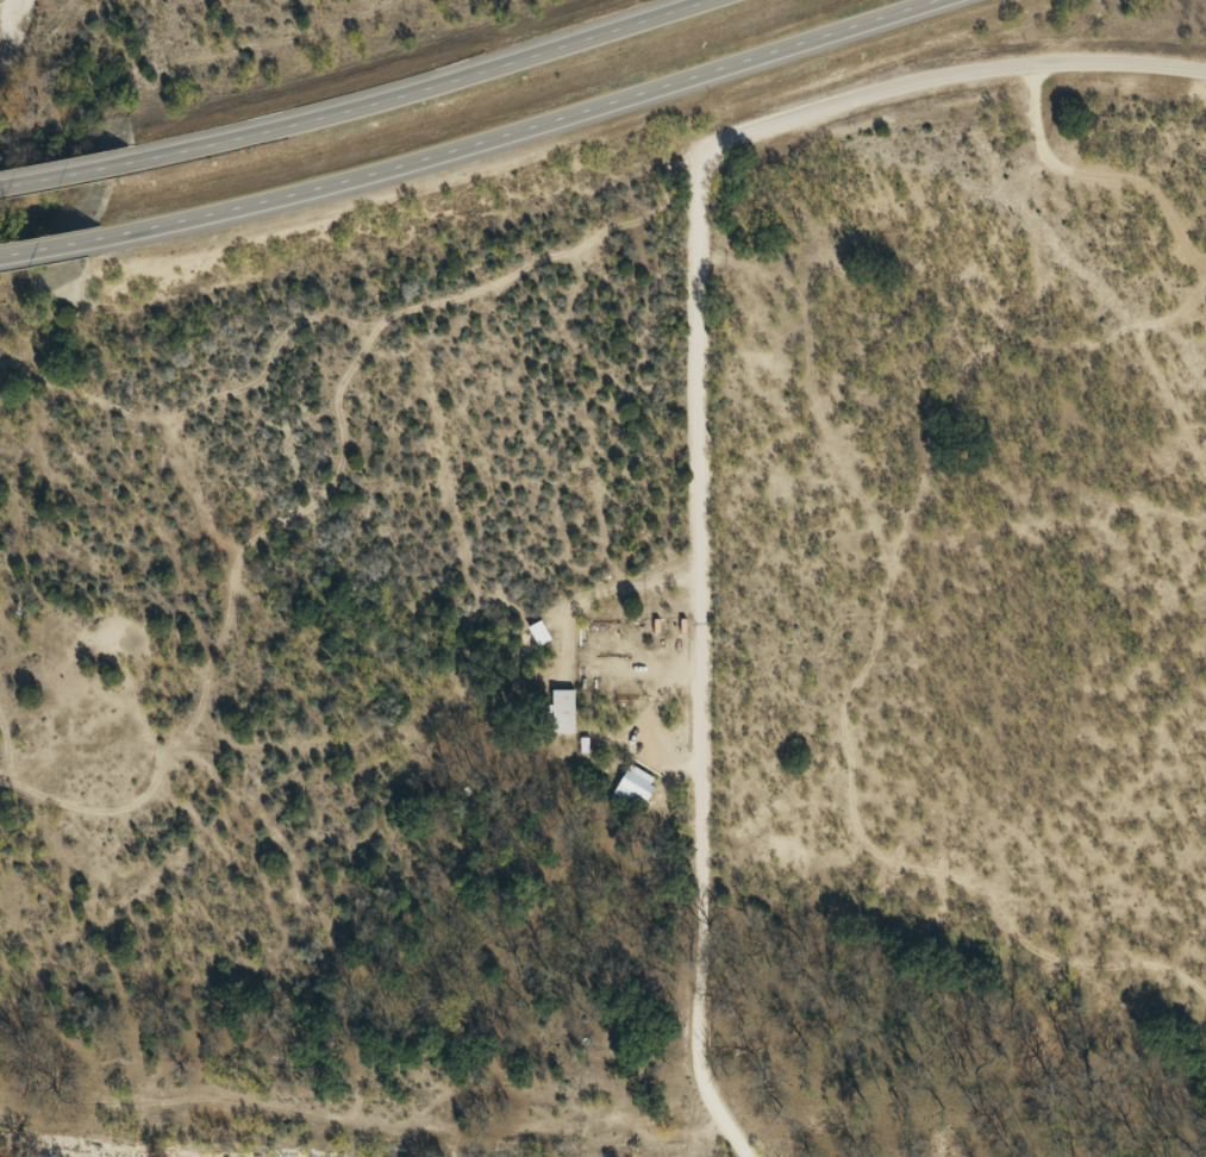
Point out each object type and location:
road: (945, 81)
road: (414, 87)
road: (527, 131)
road: (63, 175)
road: (45, 252)
road: (686, 667)
building: (636, 782)

